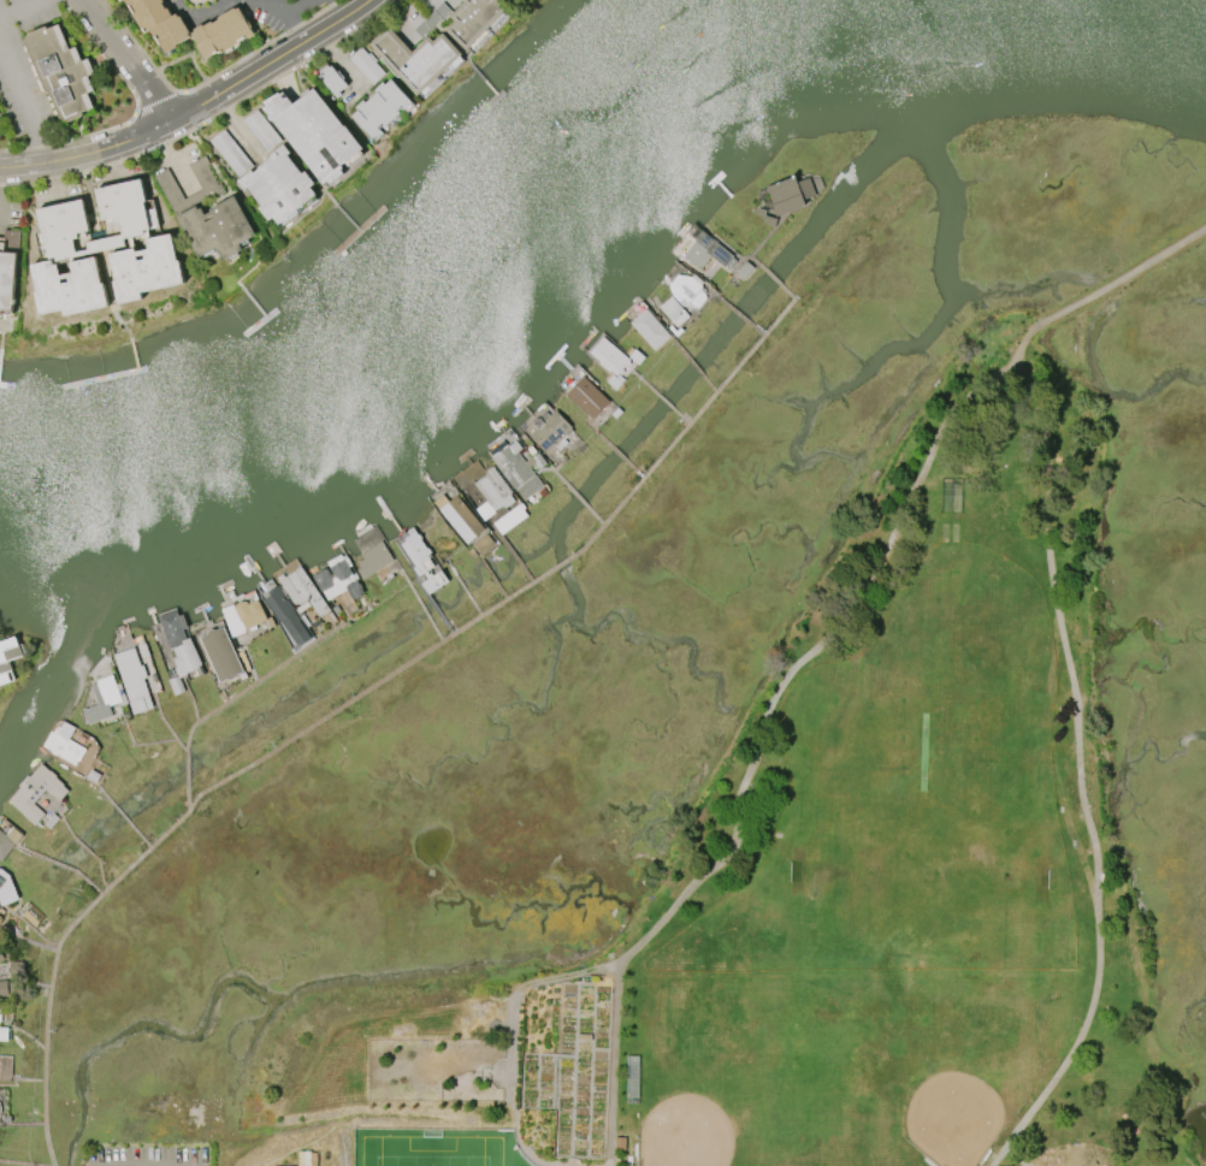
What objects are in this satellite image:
building: (118, 0)
road: (173, 0)
road: (175, 0)
building: (514, 0)
road: (343, 6)
road: (298, 7)
river: (1125, 8)
road: (22, 10)
road: (283, 11)
road: (197, 13)
building: (473, 20)
building: (158, 23)
building: (221, 34)
road: (125, 60)
building: (416, 60)
road: (343, 63)
building: (366, 65)
building: (60, 72)
building: (332, 81)
road: (24, 105)
building: (380, 108)
road: (195, 110)
road: (238, 129)
building: (261, 131)
building: (314, 134)
building: (231, 154)
road: (175, 167)
building: (278, 187)
building: (790, 195)
building: (207, 214)
building: (63, 221)
building: (705, 251)
building: (146, 270)
building: (8, 271)
building: (67, 288)
building: (687, 291)
river: (444, 298)
building: (649, 330)
building: (608, 356)
building: (587, 398)
building: (550, 431)
road: (1034, 446)
building: (519, 469)
building: (492, 493)
building: (459, 517)
building: (373, 560)
building: (422, 562)
building: (337, 579)
building: (302, 591)
road: (853, 602)
building: (243, 616)
building: (286, 617)
building: (179, 643)
building: (220, 655)
building: (7, 658)
building: (134, 680)
building: (102, 700)
road: (232, 700)
road: (347, 704)
building: (64, 744)
park: (922, 748)
building: (24, 793)
building: (7, 841)
road: (1096, 864)
park: (918, 872)
park: (857, 884)
building: (6, 889)
building: (32, 916)
building: (0, 918)
building: (0, 921)
building: (1, 957)
building: (2, 988)
building: (0, 1014)
building: (4, 1035)
road: (613, 1058)
road: (474, 1072)
road: (510, 1094)
building: (0, 1111)
park: (956, 1114)
park: (684, 1130)
park: (436, 1146)
road: (1074, 1154)
parking lot: (149, 1155)

